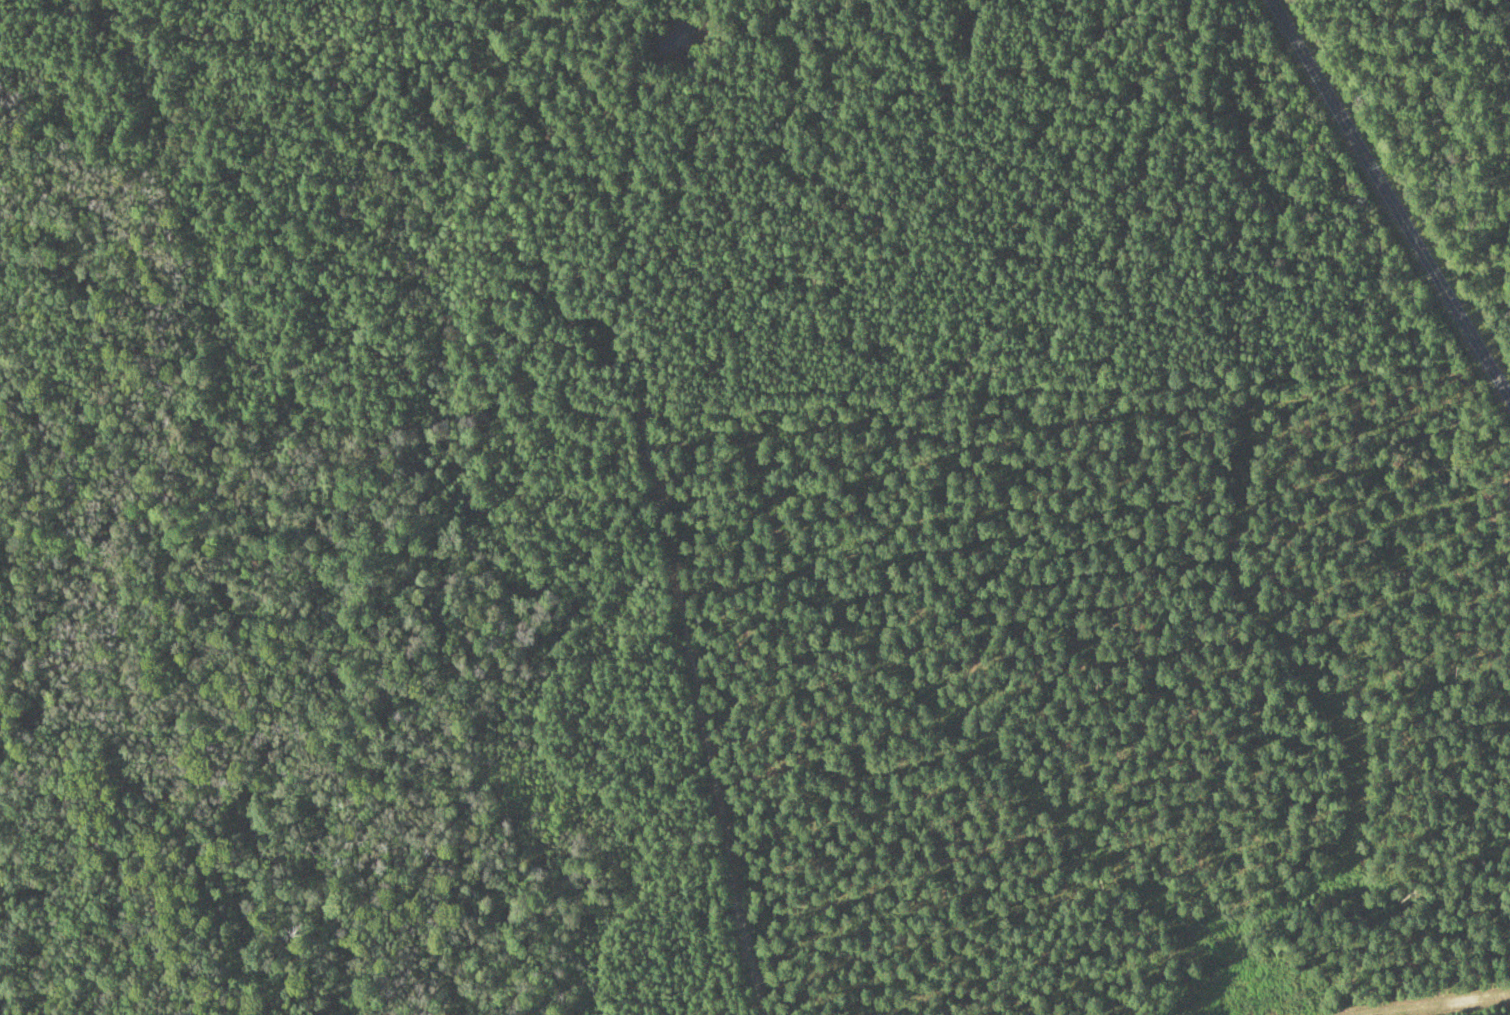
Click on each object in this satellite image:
road: (1389, 196)

